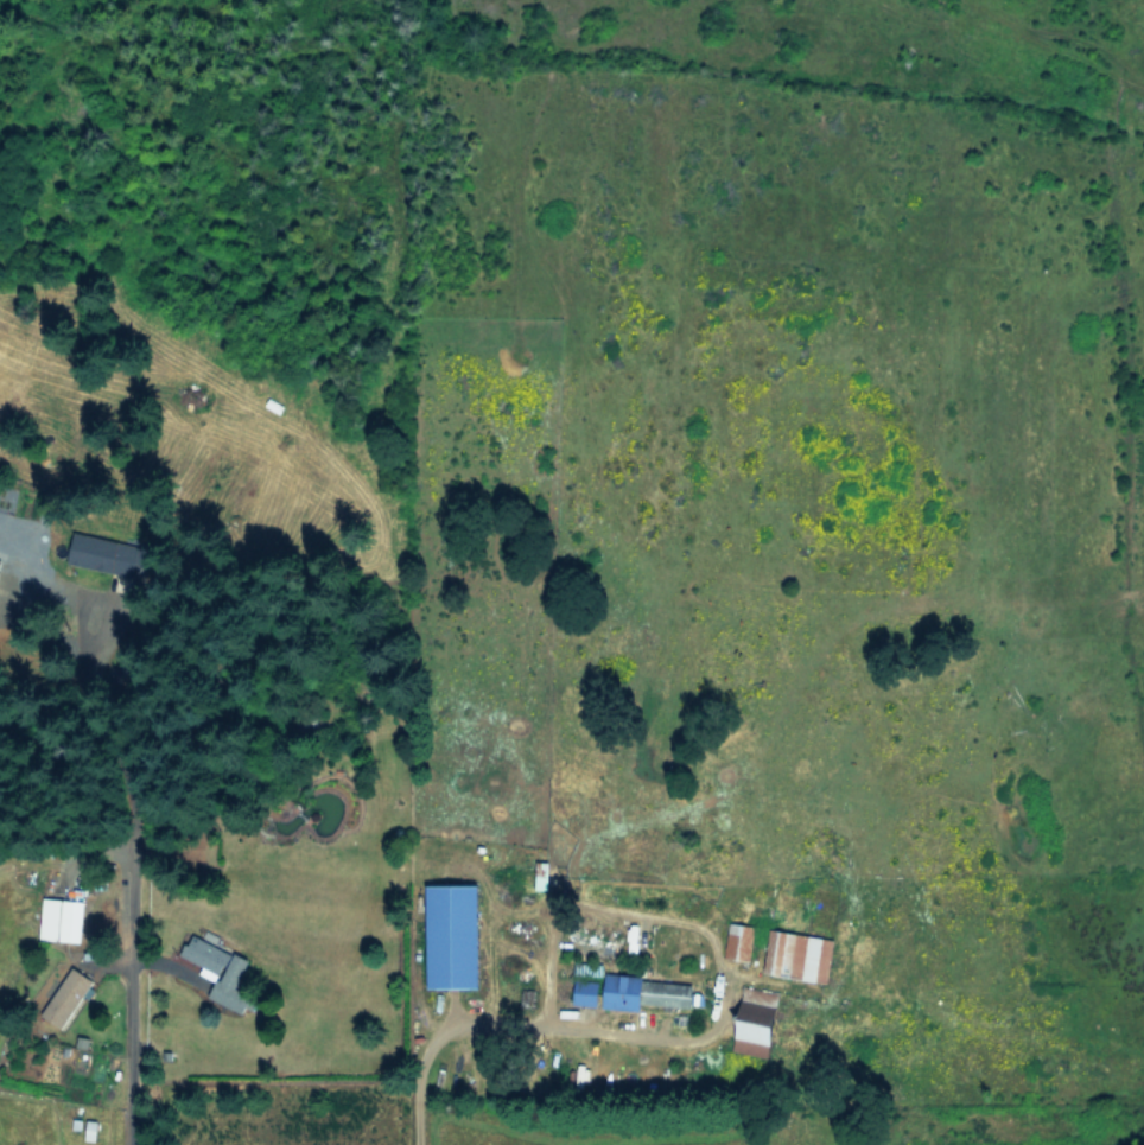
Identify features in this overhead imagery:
building: (108, 553)
building: (0, 560)
building: (542, 874)
building: (59, 918)
building: (453, 934)
road: (710, 934)
building: (739, 940)
building: (797, 954)
building: (205, 955)
building: (231, 982)
building: (646, 991)
building: (586, 992)
building: (66, 997)
road: (123, 999)
building: (756, 1020)
road: (438, 1036)

